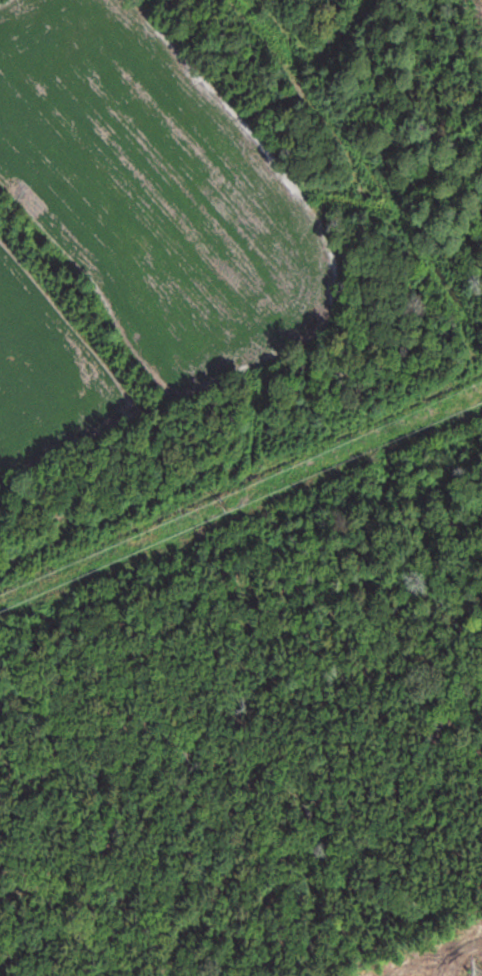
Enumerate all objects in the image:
power tower: (225, 505)

